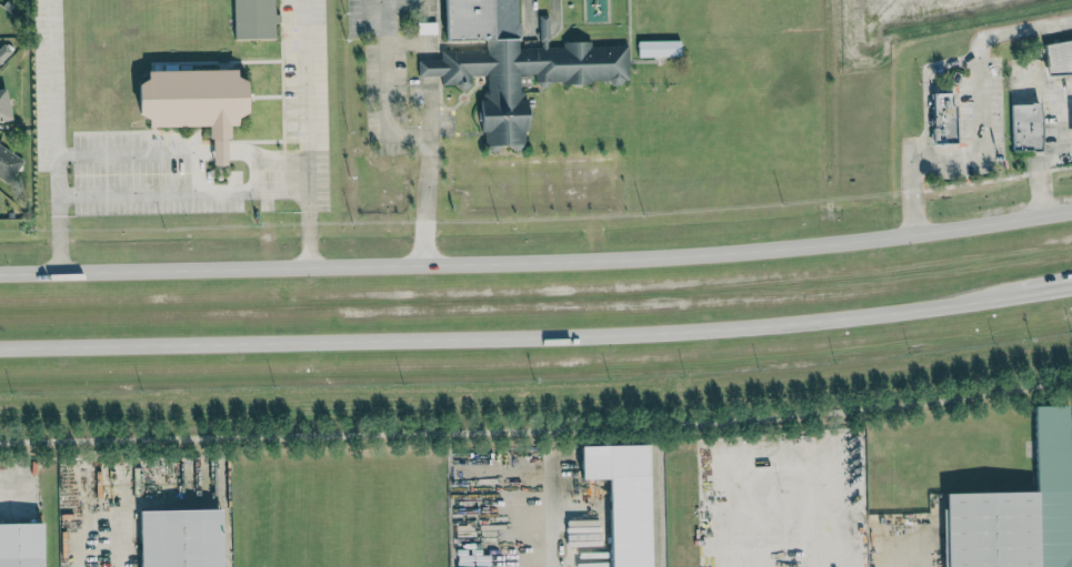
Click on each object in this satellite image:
building: (253, 19)
road: (413, 43)
building: (658, 49)
building: (3, 52)
building: (1058, 57)
building: (513, 64)
road: (431, 69)
road: (926, 88)
building: (194, 102)
building: (3, 107)
road: (432, 109)
building: (943, 118)
road: (979, 118)
building: (1071, 122)
building: (1025, 126)
road: (301, 133)
road: (403, 134)
road: (52, 135)
road: (1068, 151)
road: (130, 153)
road: (219, 153)
road: (1059, 153)
road: (252, 158)
building: (8, 164)
road: (287, 173)
road: (166, 191)
building: (0, 199)
road: (537, 261)
road: (1070, 287)
road: (1070, 287)
road: (1034, 293)
road: (501, 340)
road: (537, 429)
road: (789, 474)
road: (113, 497)
building: (623, 498)
road: (528, 502)
building: (1018, 509)
building: (865, 527)
building: (180, 538)
building: (21, 545)

